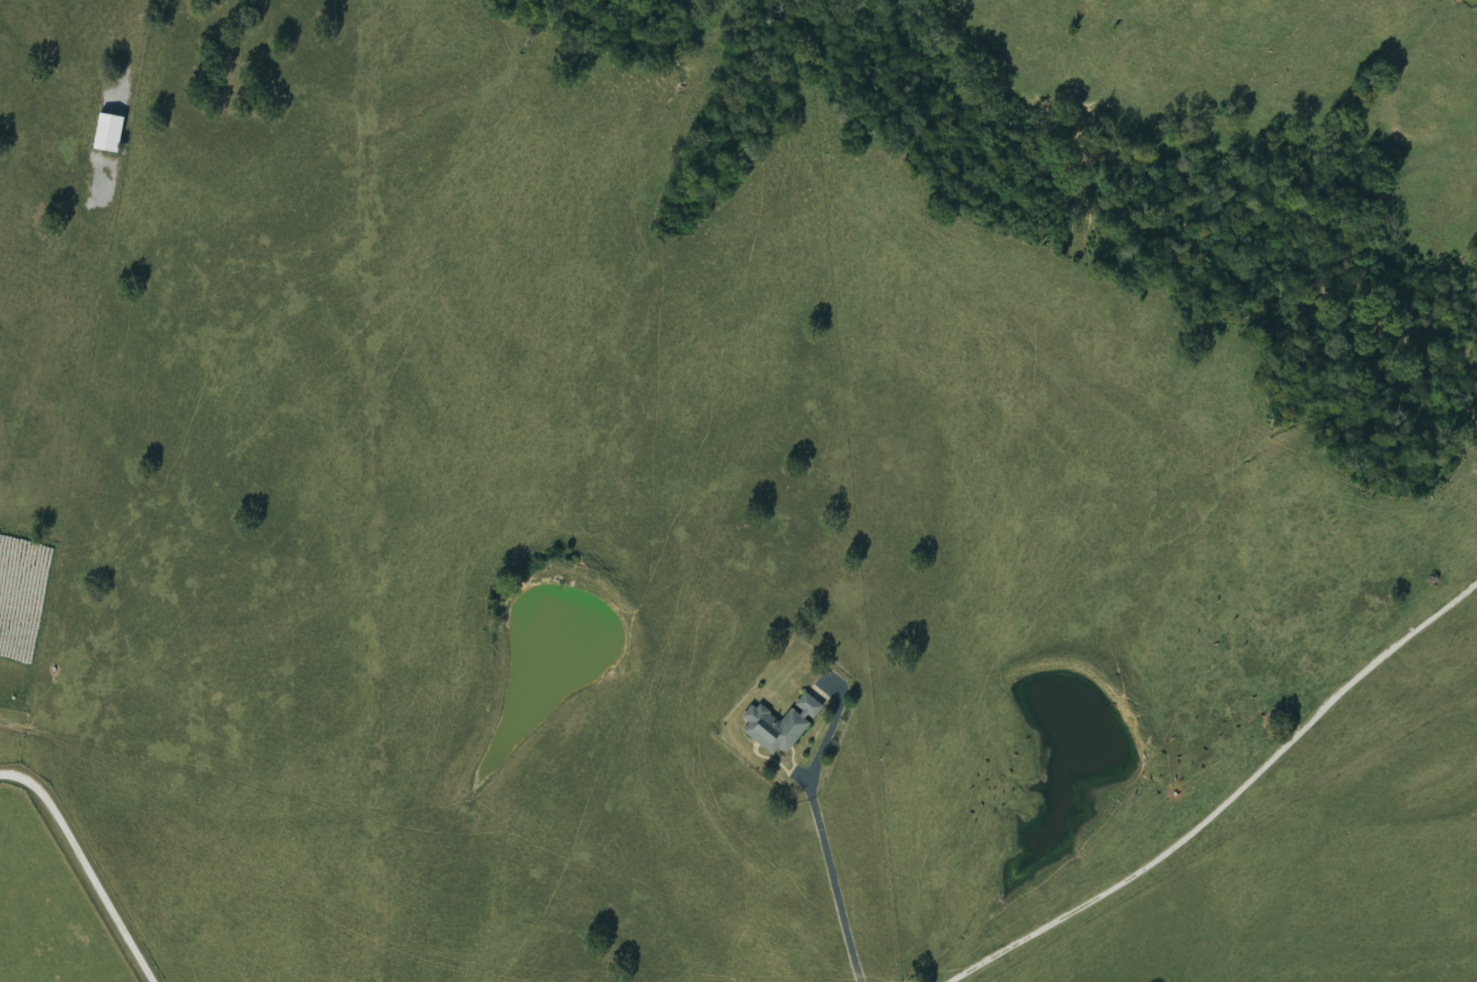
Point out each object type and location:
building: (114, 134)
dam: (574, 573)
dam: (1097, 667)
building: (779, 725)
road: (83, 868)

